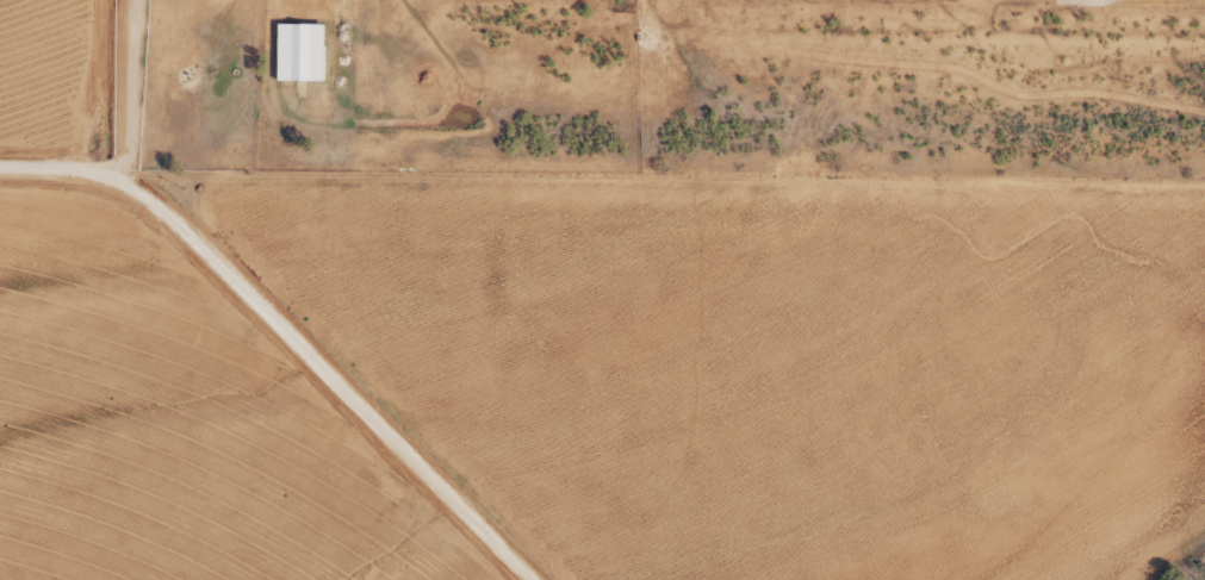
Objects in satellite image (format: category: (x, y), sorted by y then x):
building: (297, 52)
road: (135, 89)
road: (291, 329)

